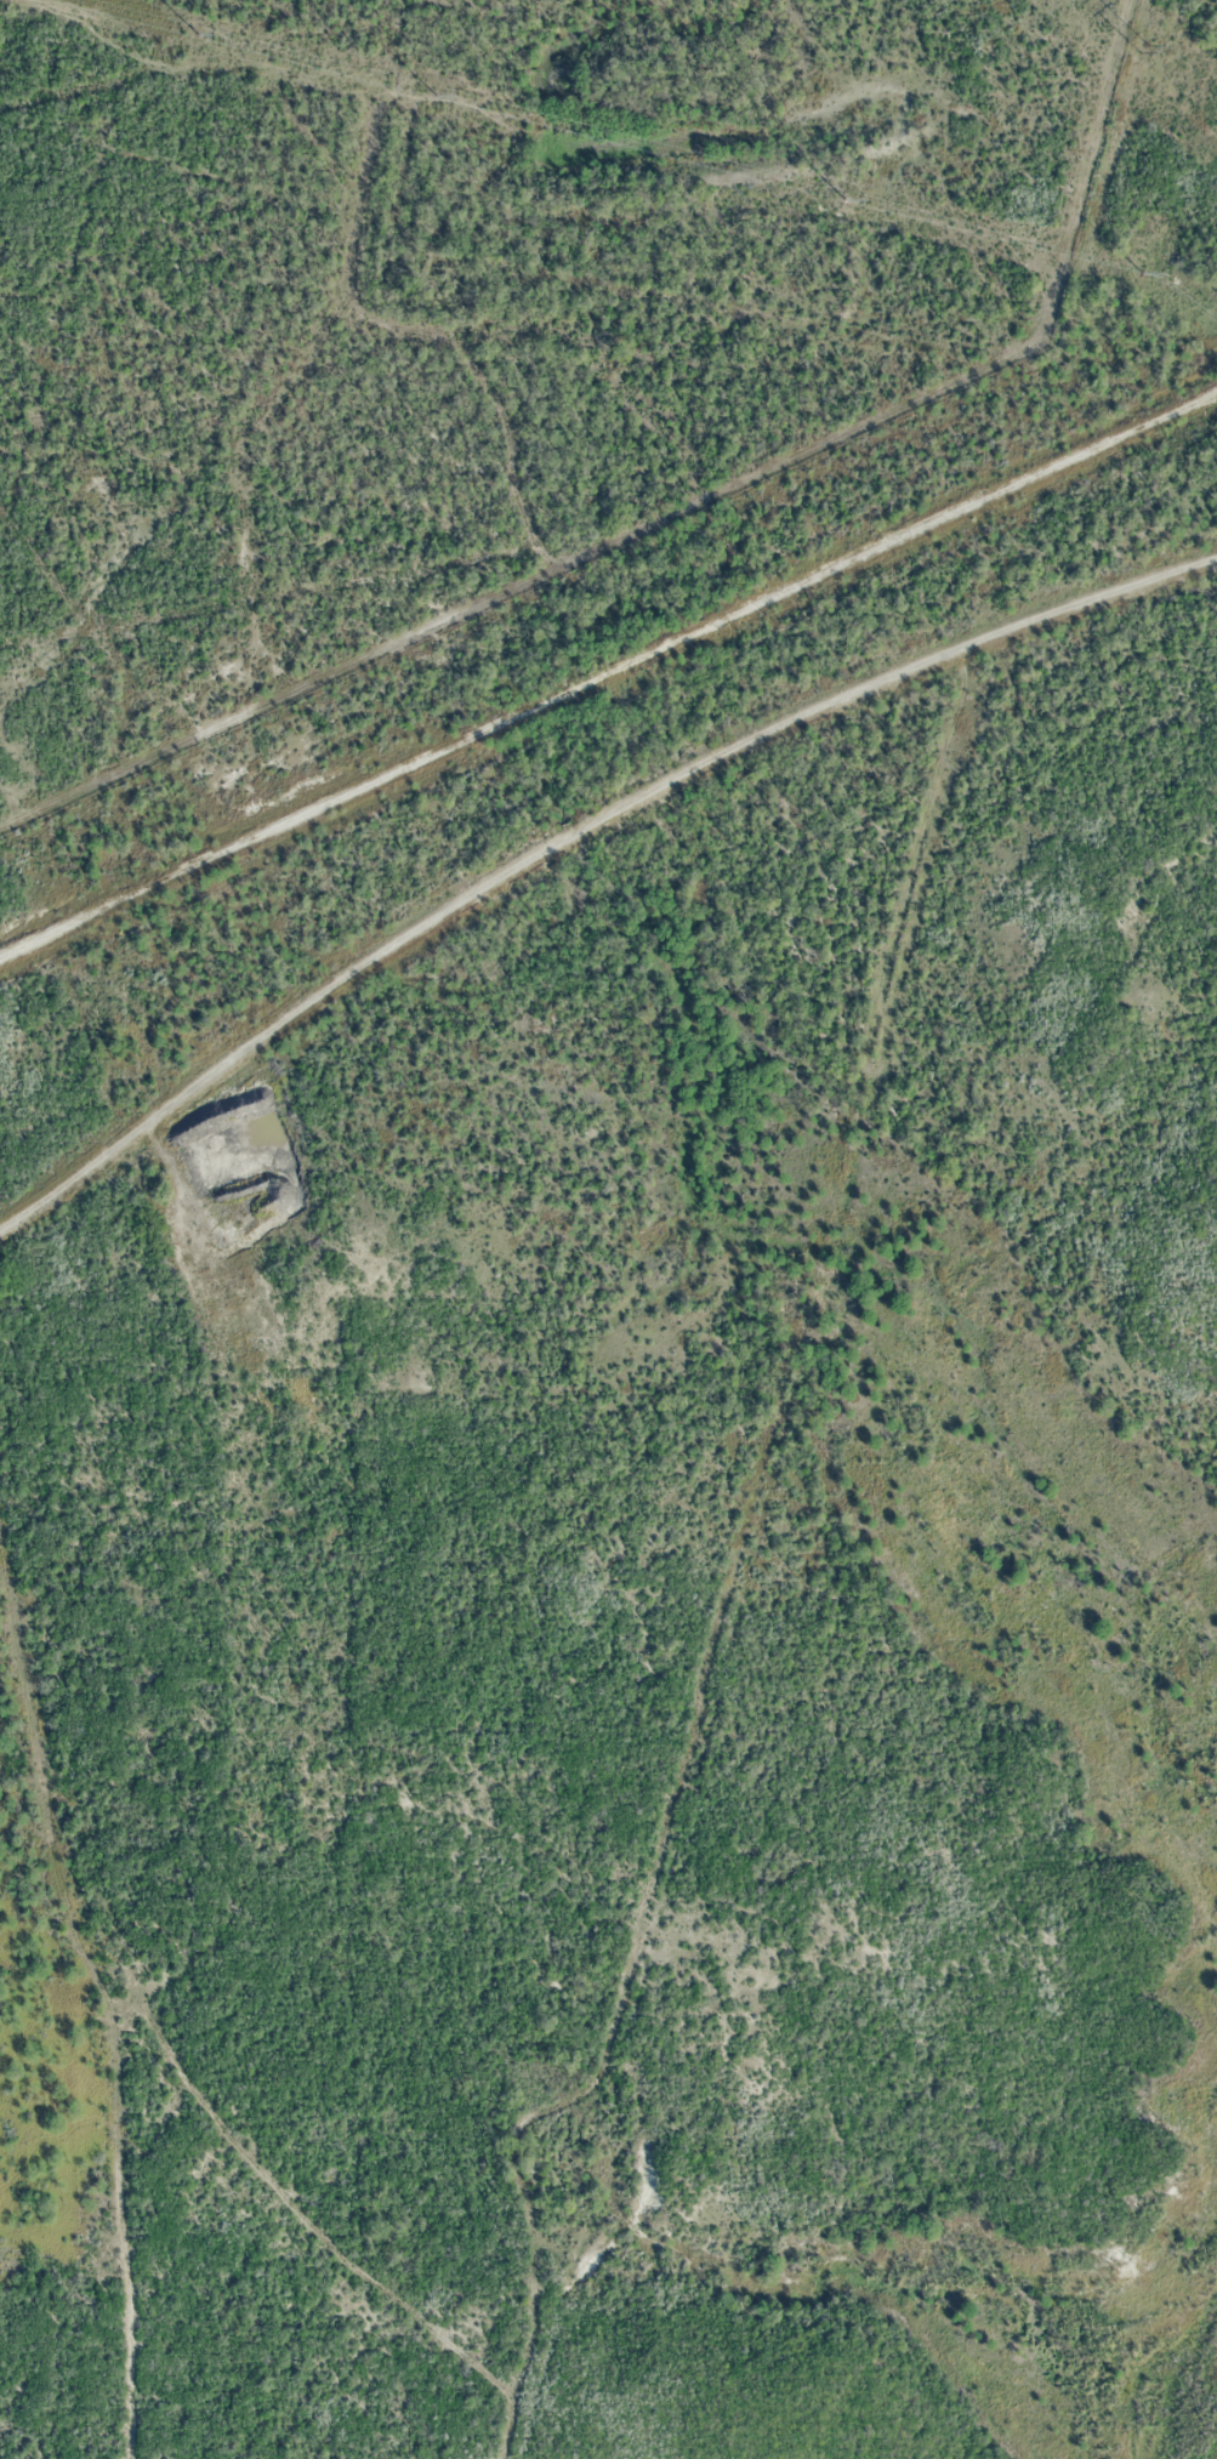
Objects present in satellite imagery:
power tower: (198, 34)
power tower: (1144, 49)
power tower: (436, 95)
power tower: (843, 199)
power tower: (1142, 273)
road: (608, 668)
road: (575, 829)

